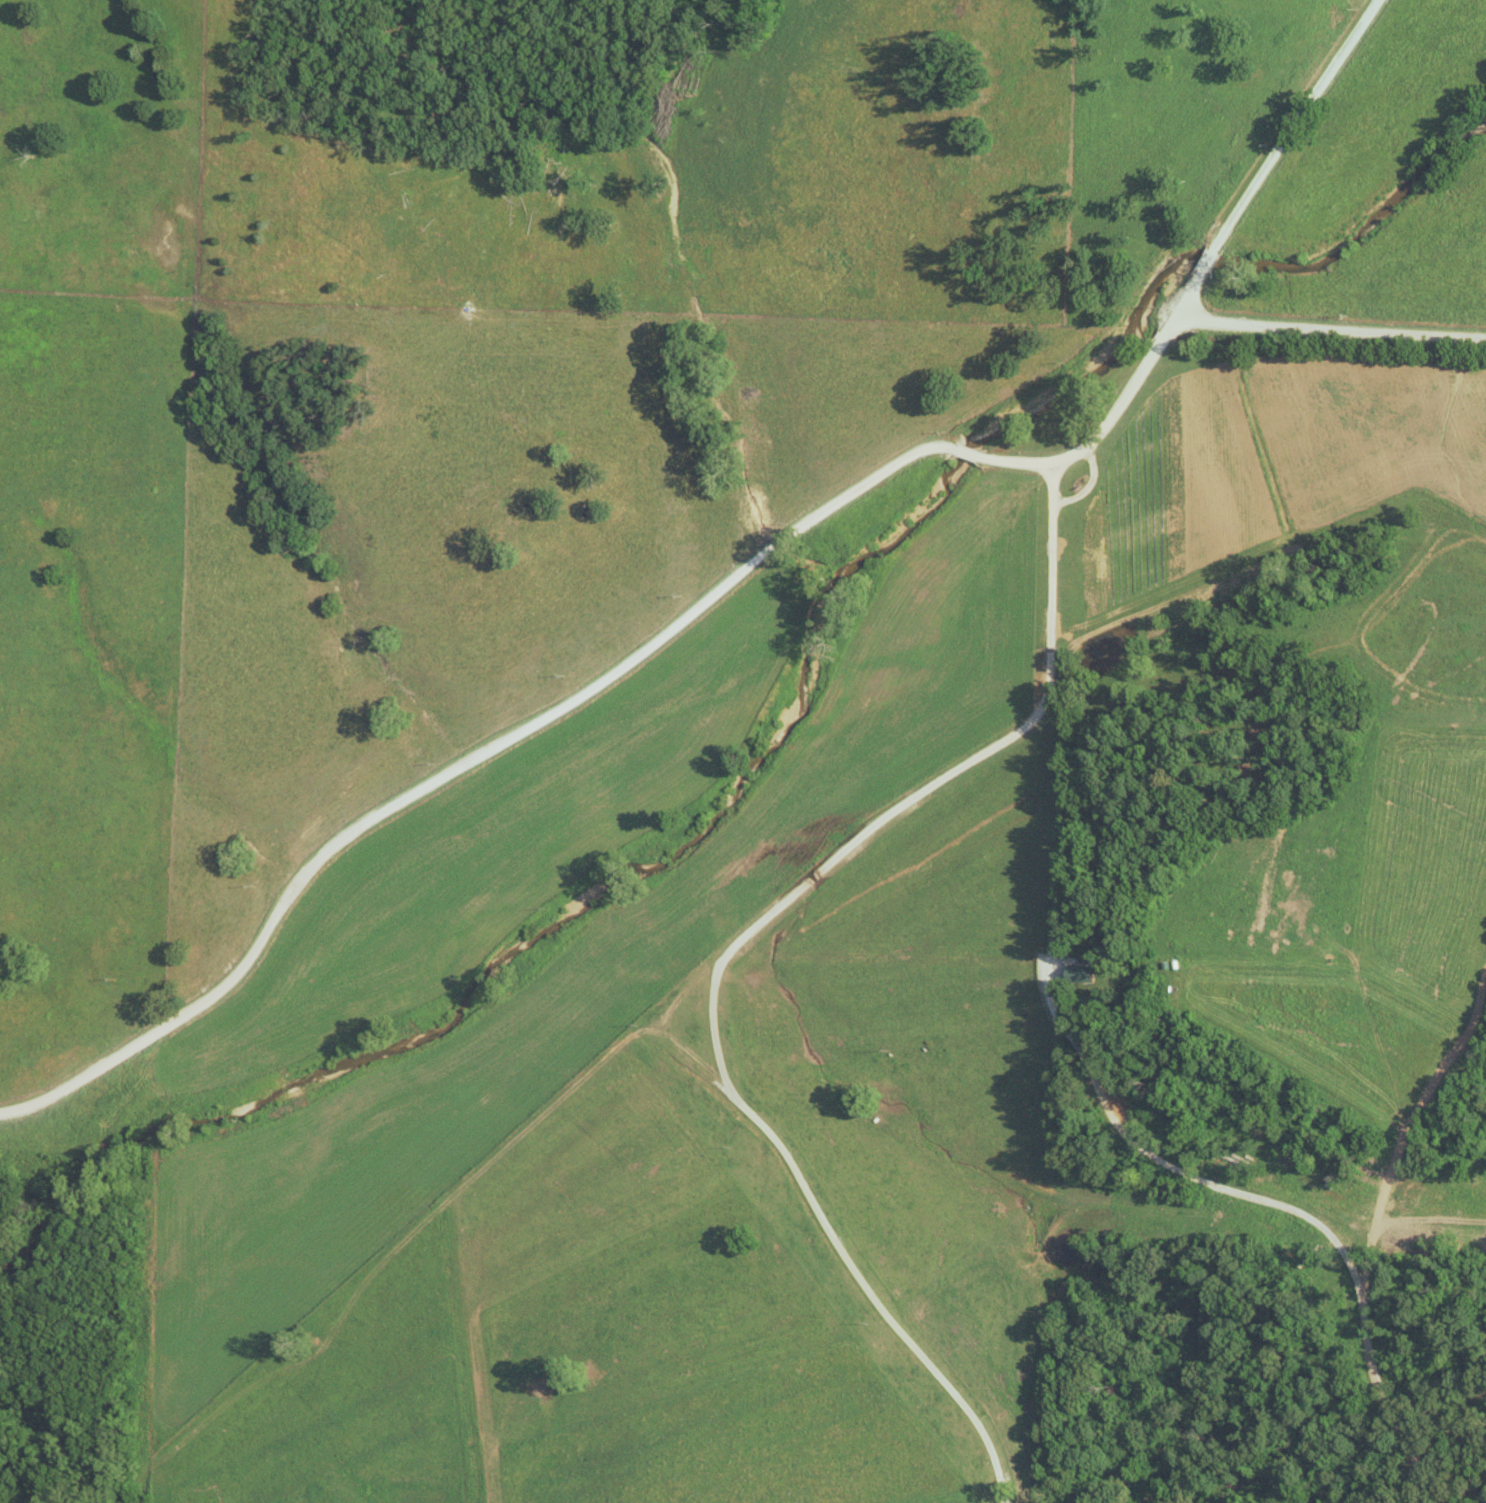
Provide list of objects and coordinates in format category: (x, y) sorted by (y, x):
road: (1270, 159)
road: (1360, 229)
road: (711, 596)
road: (712, 968)
road: (729, 1041)

